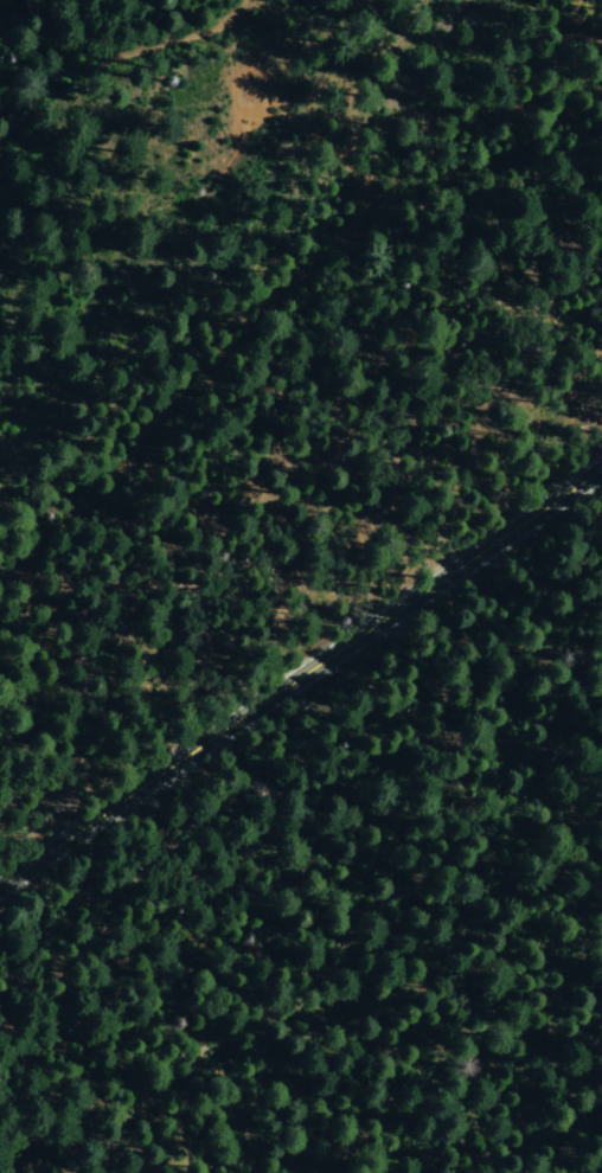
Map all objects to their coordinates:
road: (109, 62)
road: (276, 290)
road: (301, 675)
road: (282, 786)
road: (297, 864)

